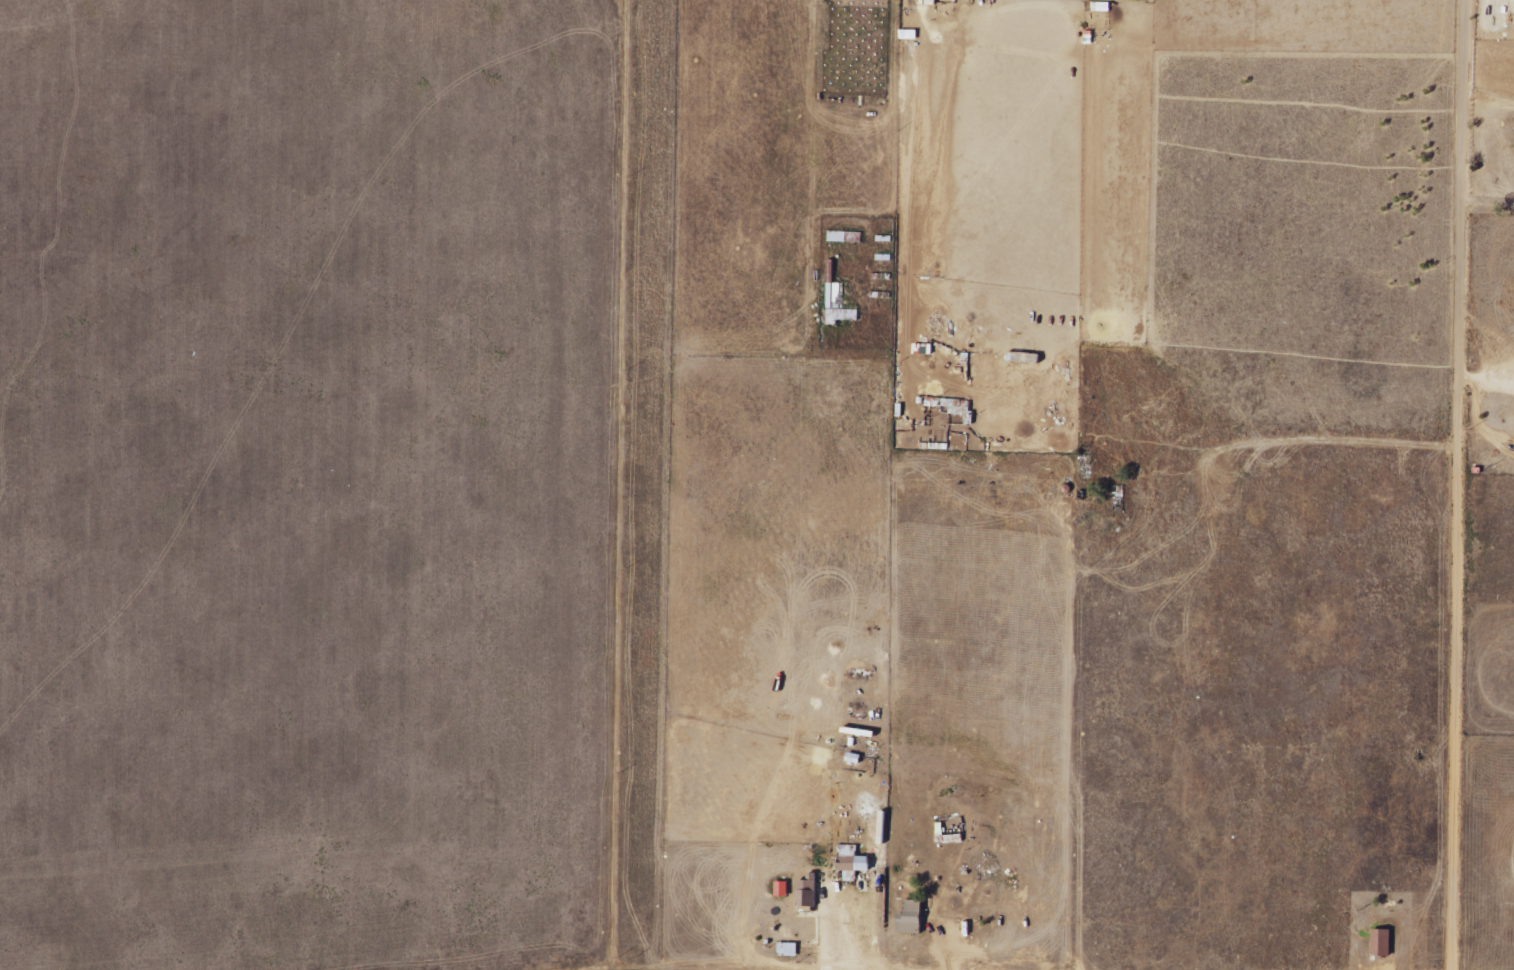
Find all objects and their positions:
building: (934, 2)
building: (911, 35)
building: (840, 305)
road: (1478, 485)
building: (785, 889)
building: (810, 892)
building: (914, 918)
building: (1384, 943)
building: (790, 949)

